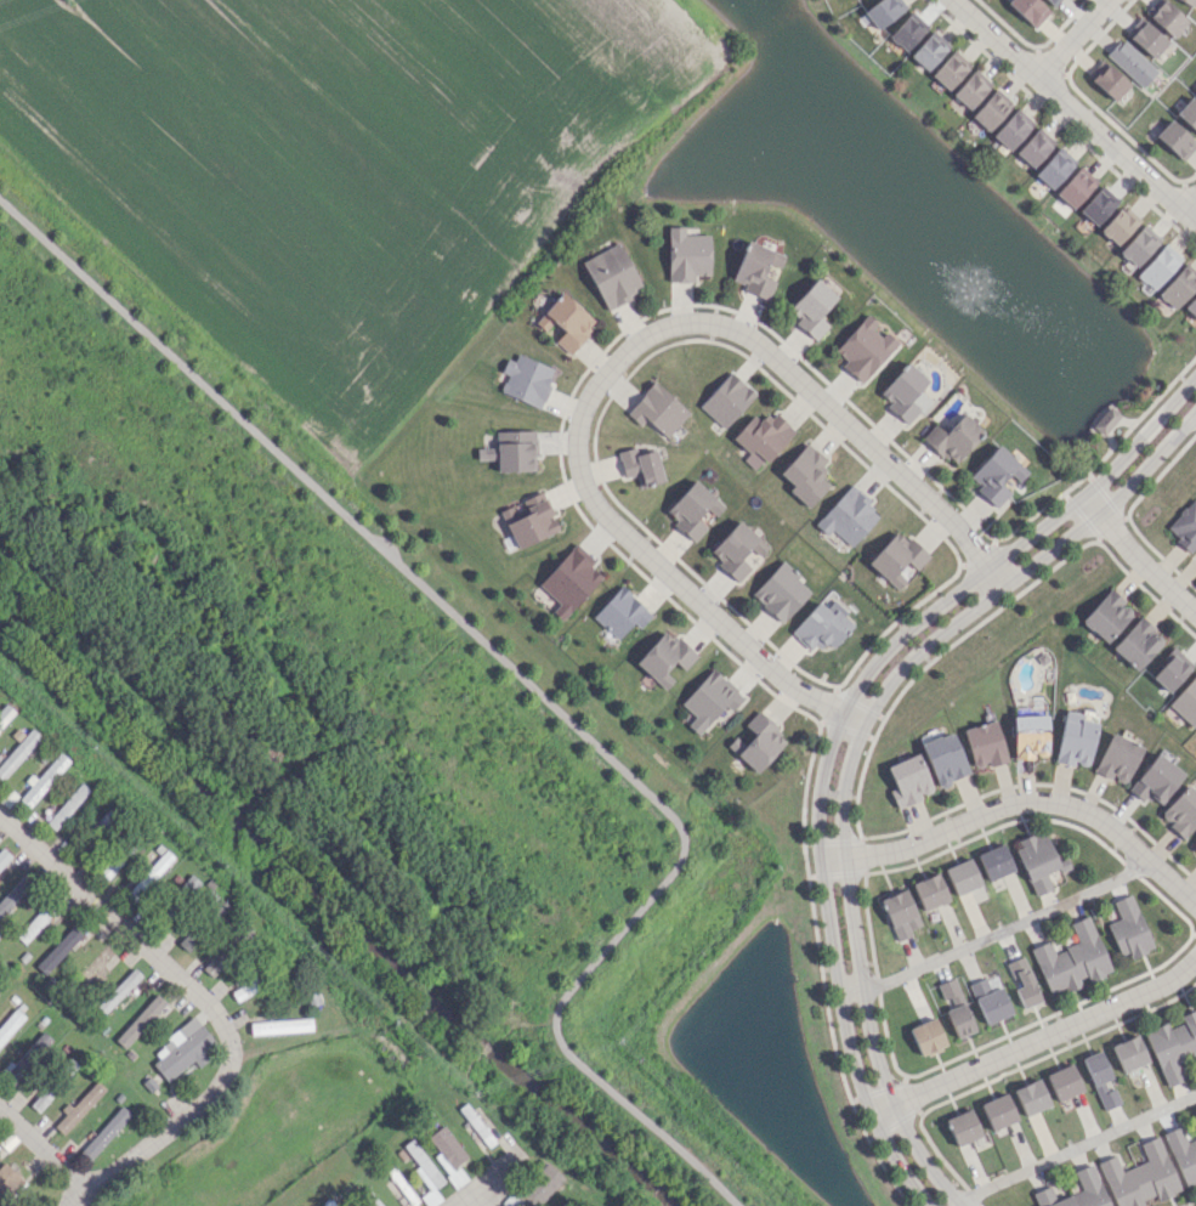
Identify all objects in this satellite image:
building: (1052, 1)
building: (1190, 1)
building: (1028, 10)
building: (883, 11)
building: (1166, 17)
building: (907, 30)
road: (1070, 36)
building: (1146, 39)
building: (929, 50)
building: (1130, 62)
building: (950, 69)
building: (1107, 80)
building: (970, 89)
building: (1195, 91)
building: (991, 109)
road: (1075, 111)
building: (1188, 113)
building: (1011, 129)
building: (1175, 140)
building: (1035, 147)
building: (1054, 166)
building: (1075, 187)
road: (1190, 204)
building: (1098, 205)
building: (1118, 225)
building: (1139, 245)
building: (687, 255)
building: (1158, 266)
building: (756, 268)
building: (611, 276)
building: (1178, 287)
building: (811, 307)
building: (1191, 307)
building: (566, 322)
building: (863, 349)
road: (614, 362)
building: (526, 379)
building: (903, 392)
building: (726, 400)
building: (657, 409)
building: (1105, 420)
building: (761, 437)
building: (953, 438)
building: (515, 451)
building: (640, 466)
building: (805, 475)
building: (996, 475)
building: (692, 509)
building: (848, 516)
building: (528, 519)
building: (1186, 526)
building: (736, 549)
road: (1137, 556)
building: (896, 557)
building: (569, 581)
building: (781, 591)
building: (620, 612)
building: (1106, 616)
building: (821, 627)
building: (1137, 644)
building: (664, 657)
building: (1172, 669)
road: (526, 685)
building: (709, 700)
building: (1186, 702)
building: (5, 714)
road: (835, 725)
building: (1030, 736)
building: (1076, 738)
building: (758, 742)
road: (851, 744)
building: (985, 744)
building: (17, 752)
building: (945, 758)
building: (1117, 758)
building: (44, 778)
building: (908, 780)
building: (1155, 780)
road: (1021, 802)
building: (67, 806)
building: (1181, 811)
building: (104, 821)
building: (1194, 844)
building: (2, 856)
building: (118, 856)
building: (994, 861)
building: (1038, 861)
building: (148, 876)
building: (962, 876)
building: (188, 885)
building: (930, 891)
building: (15, 893)
building: (165, 911)
building: (900, 913)
building: (35, 922)
road: (119, 923)
building: (1128, 928)
road: (992, 933)
building: (188, 940)
building: (59, 947)
building: (1071, 958)
building: (215, 963)
building: (90, 968)
building: (1022, 981)
building: (245, 989)
building: (118, 990)
building: (990, 1000)
building: (954, 1007)
building: (140, 1020)
building: (10, 1024)
building: (280, 1026)
building: (926, 1036)
road: (1037, 1040)
building: (1172, 1046)
building: (185, 1053)
building: (1128, 1053)
building: (25, 1058)
building: (1100, 1080)
building: (1062, 1082)
building: (1031, 1097)
building: (40, 1100)
building: (79, 1106)
building: (998, 1111)
building: (476, 1125)
building: (963, 1127)
road: (161, 1132)
building: (104, 1133)
road: (44, 1148)
road: (1077, 1148)
building: (447, 1153)
building: (1183, 1154)
building: (511, 1159)
building: (424, 1173)
building: (1139, 1177)
building: (7, 1180)
building: (537, 1184)
road: (476, 1188)
building: (1076, 1191)
building: (369, 1200)
road: (469, 1201)

